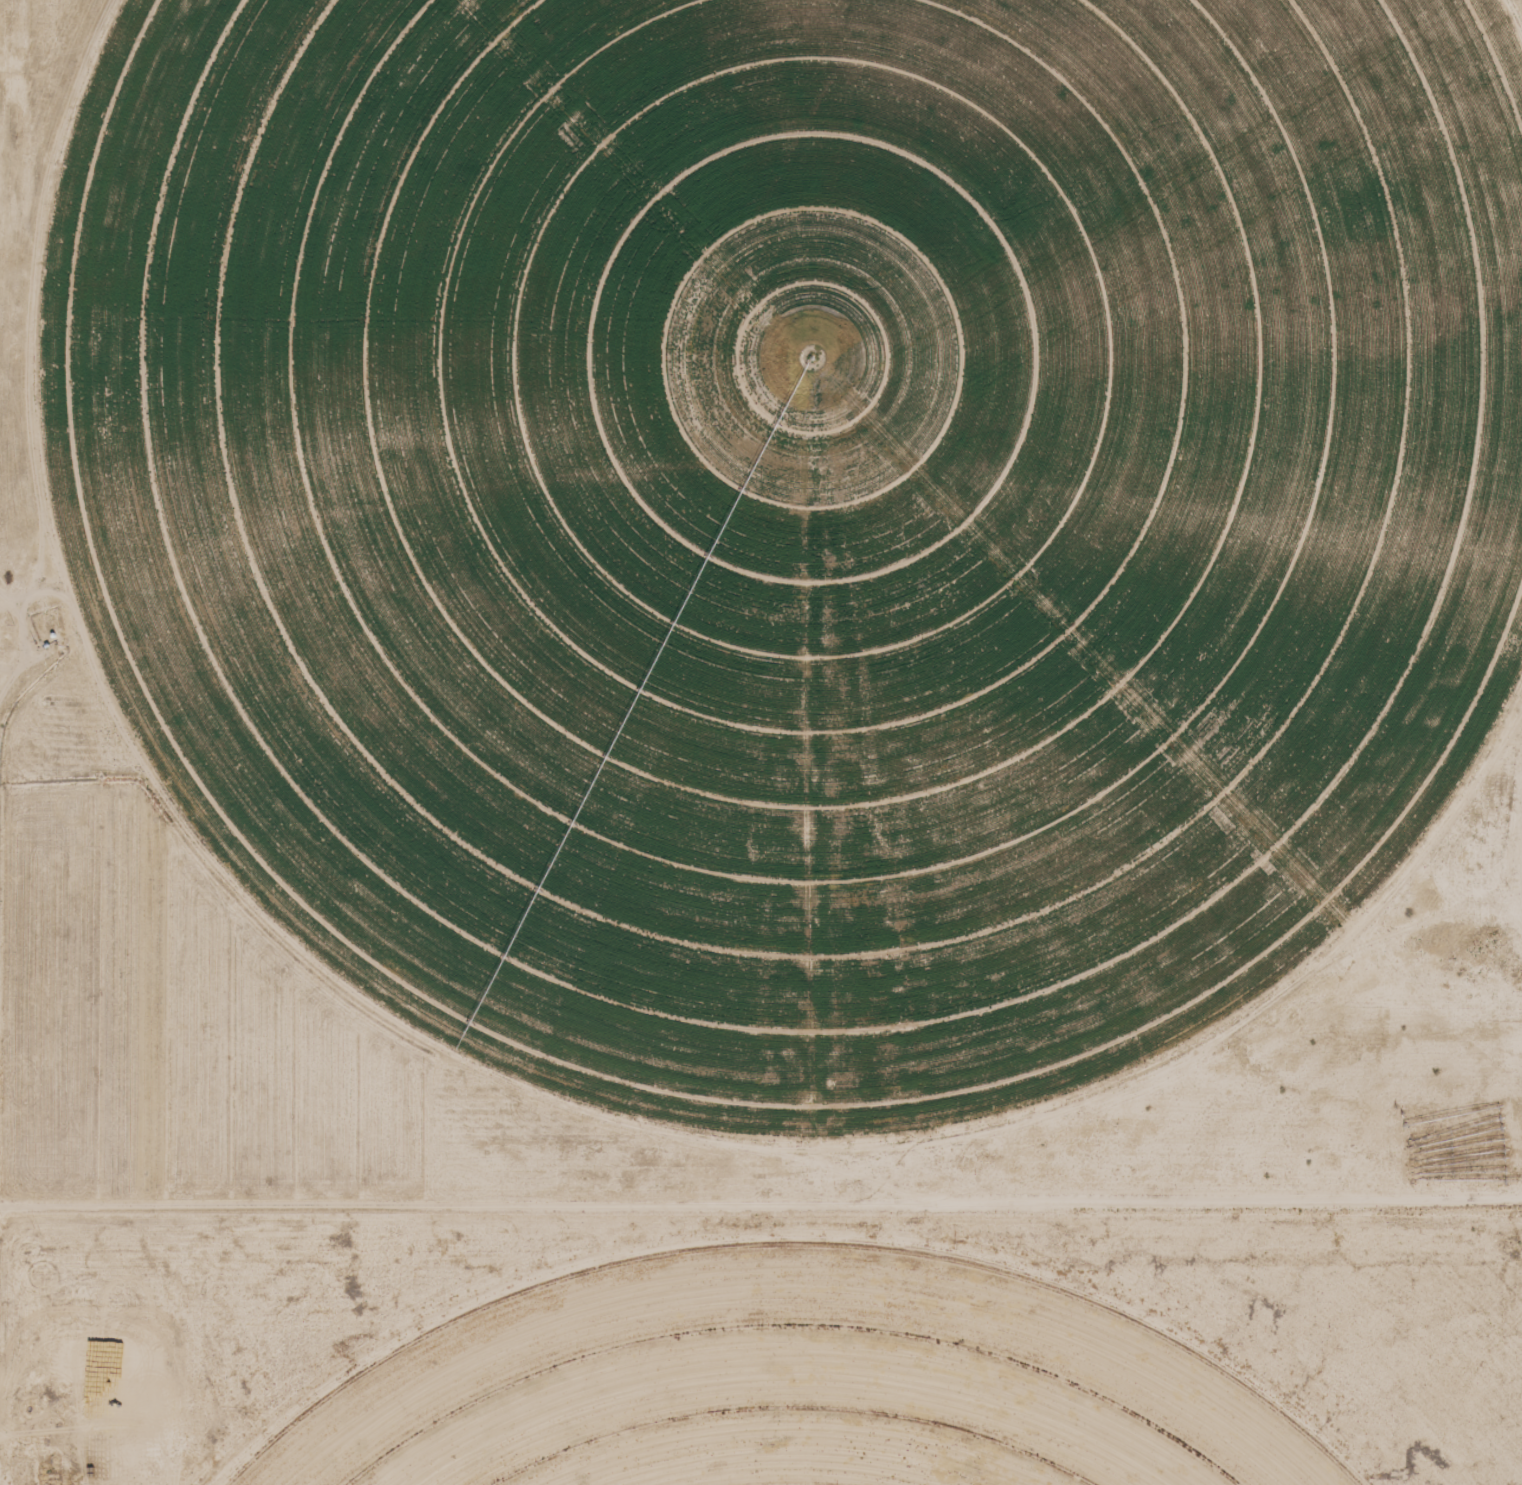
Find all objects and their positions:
crop: (794, 512)
road: (6, 742)
road: (760, 1182)
crop: (790, 1390)
road: (127, 1482)

